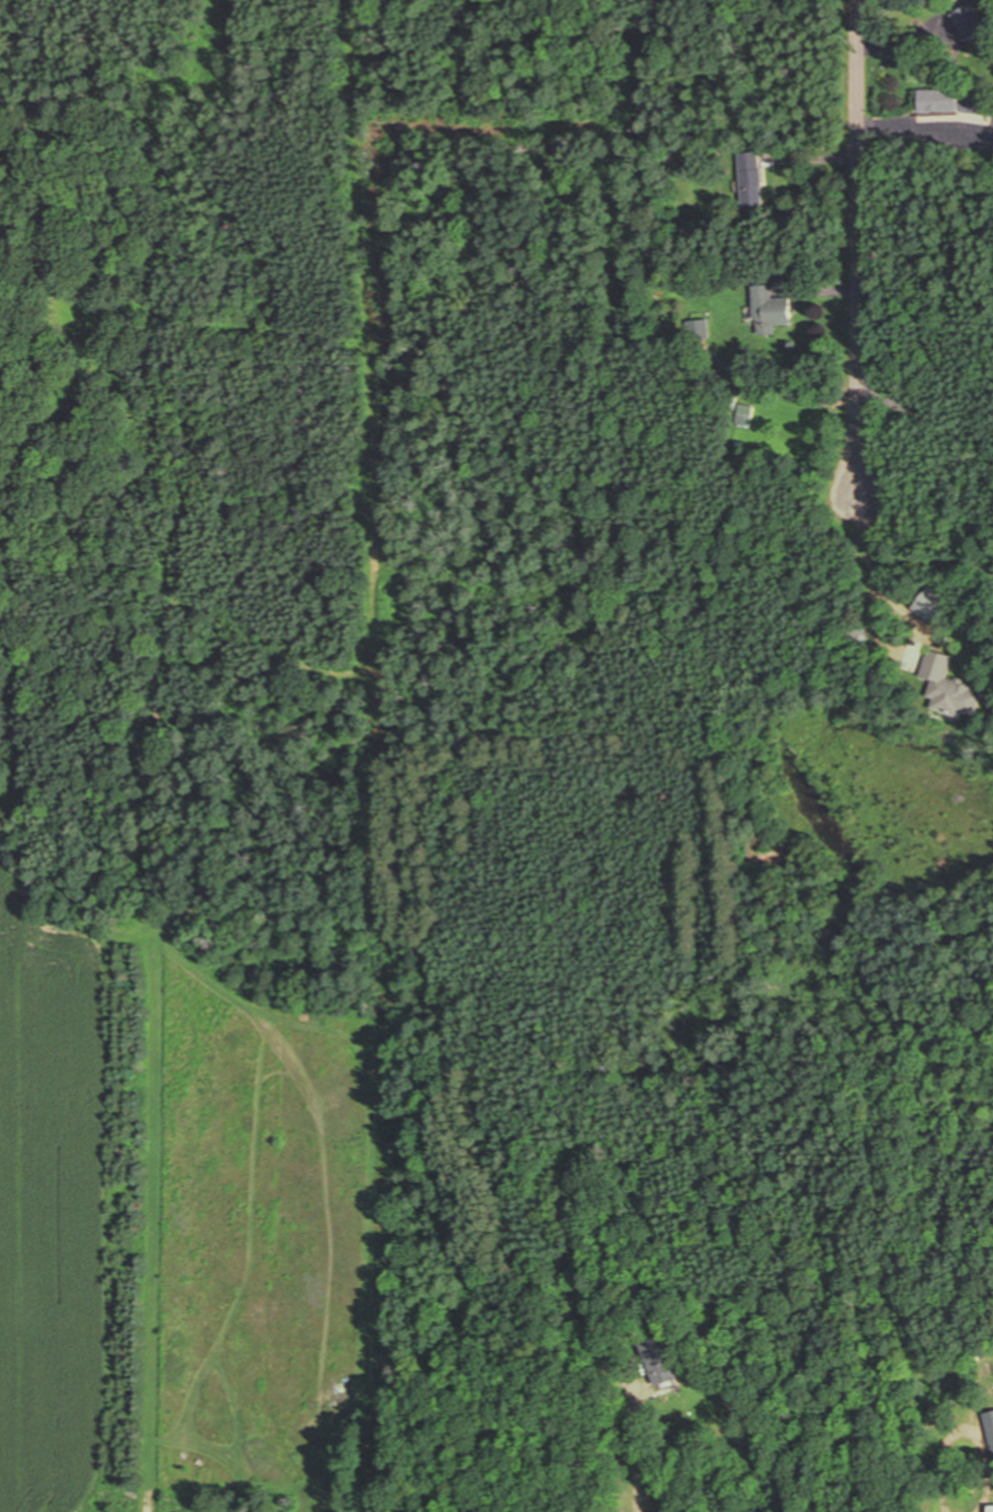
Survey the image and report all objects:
building: (958, 102)
building: (755, 181)
road: (858, 250)
building: (774, 311)
building: (957, 686)
crop: (69, 1200)
building: (664, 1363)
building: (992, 1418)
building: (177, 1461)
building: (655, 1505)
building: (992, 1508)

